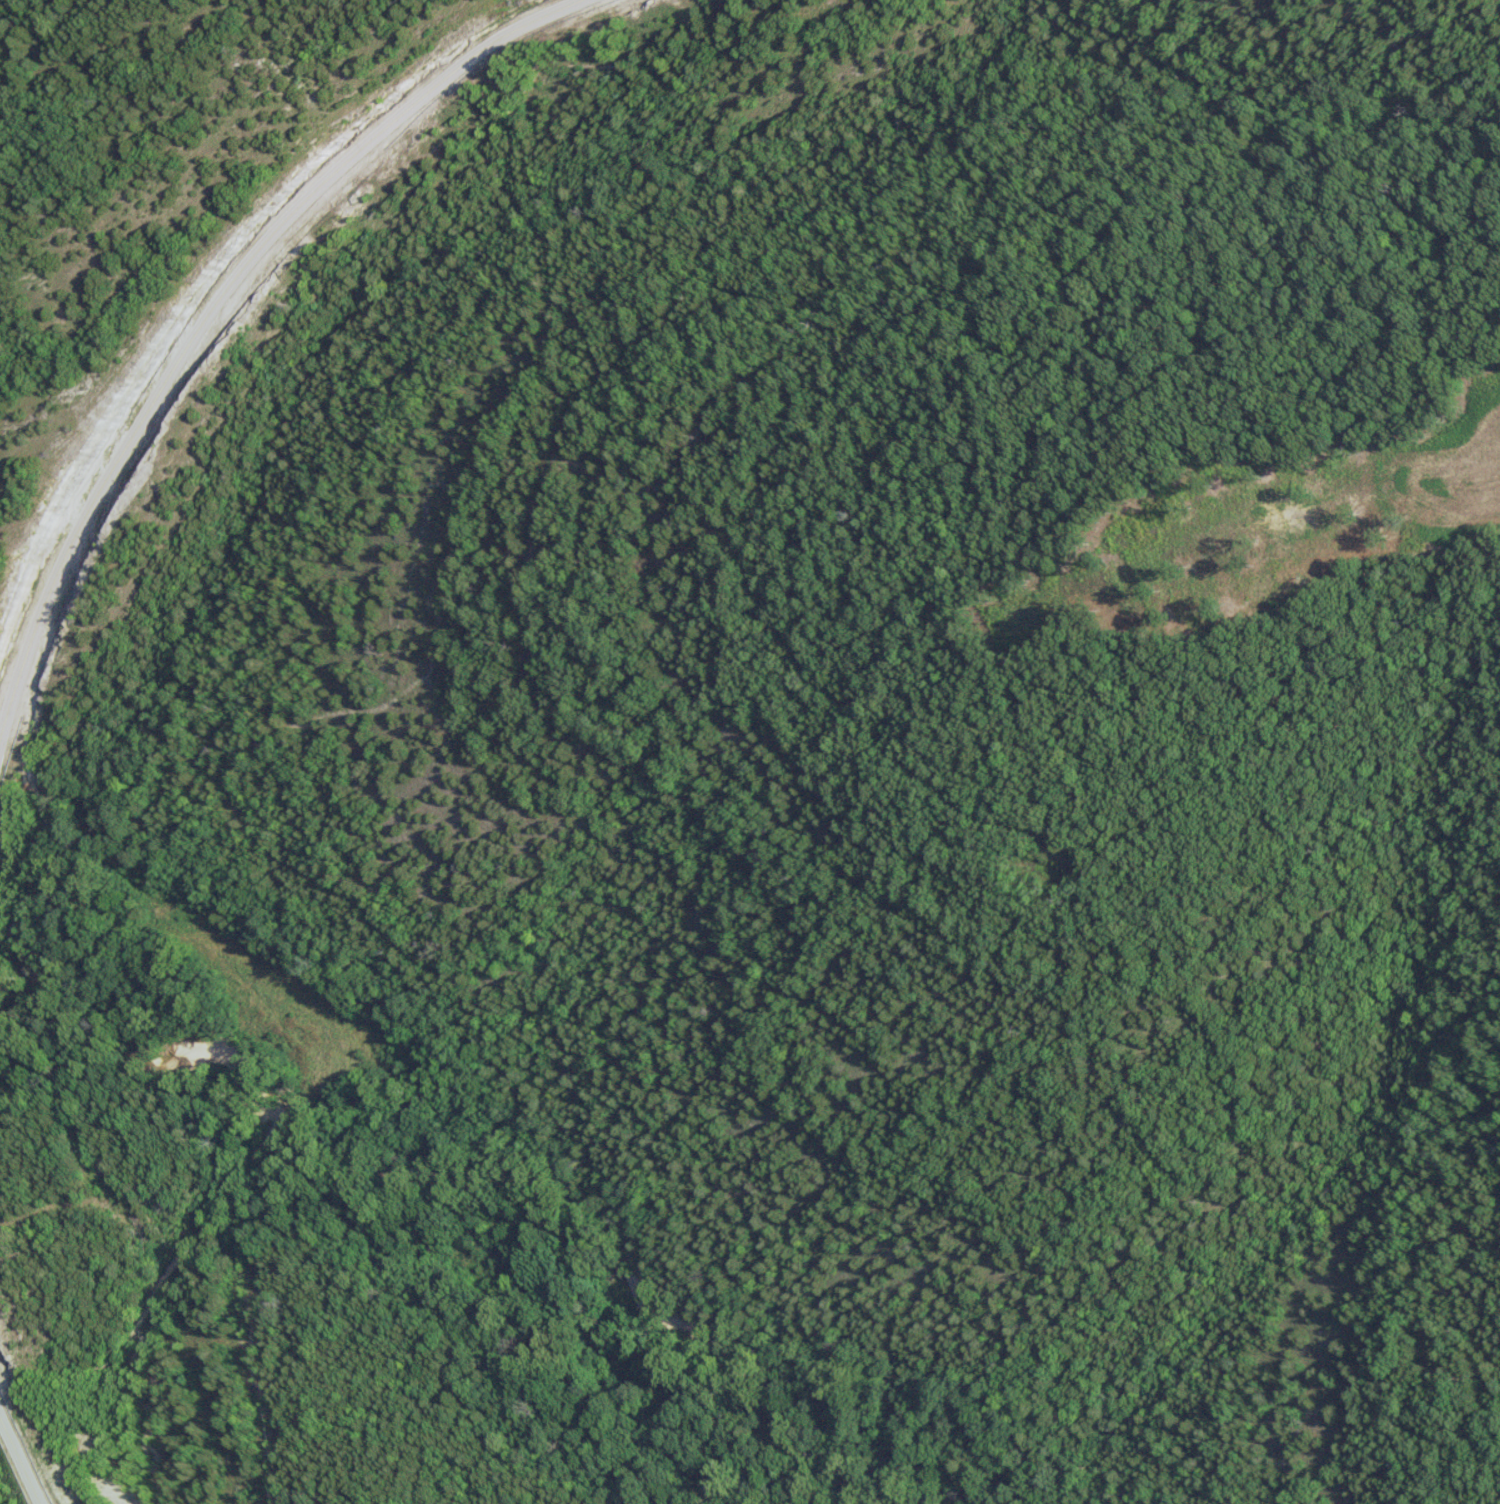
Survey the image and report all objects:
road: (200, 305)
road: (44, 1457)

